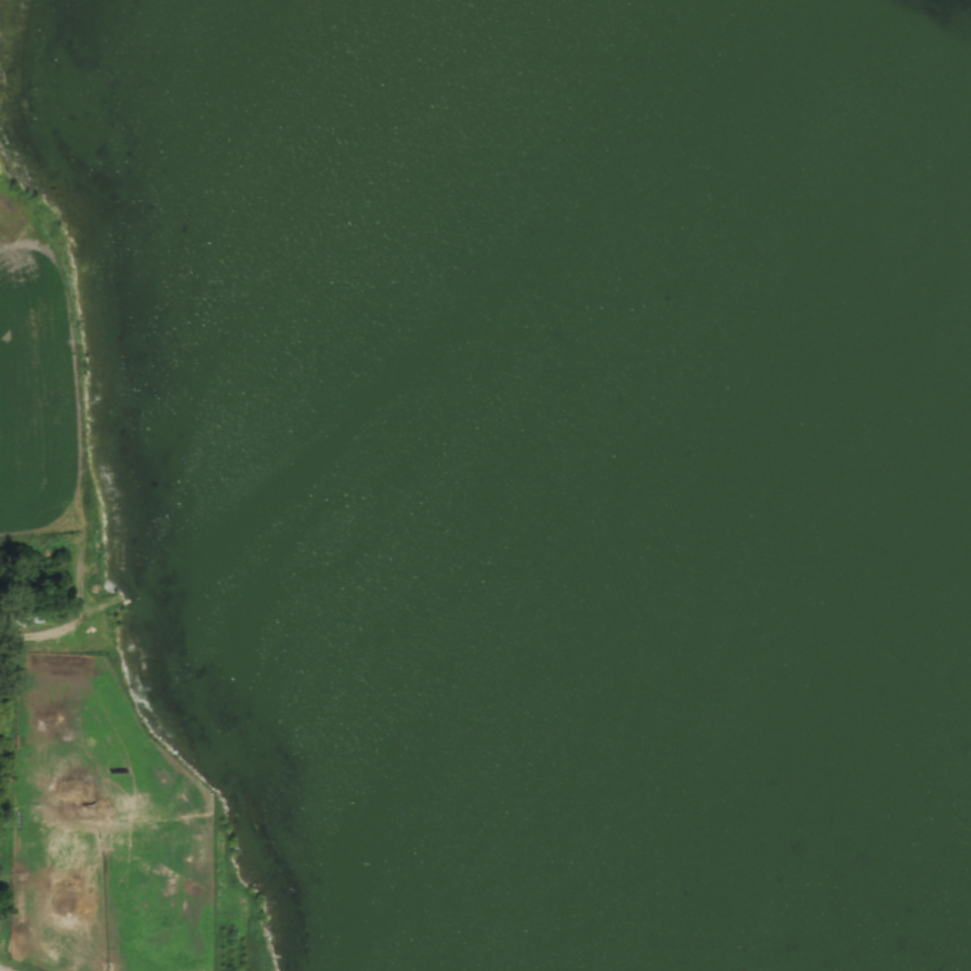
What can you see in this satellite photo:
building: (72, 788)

